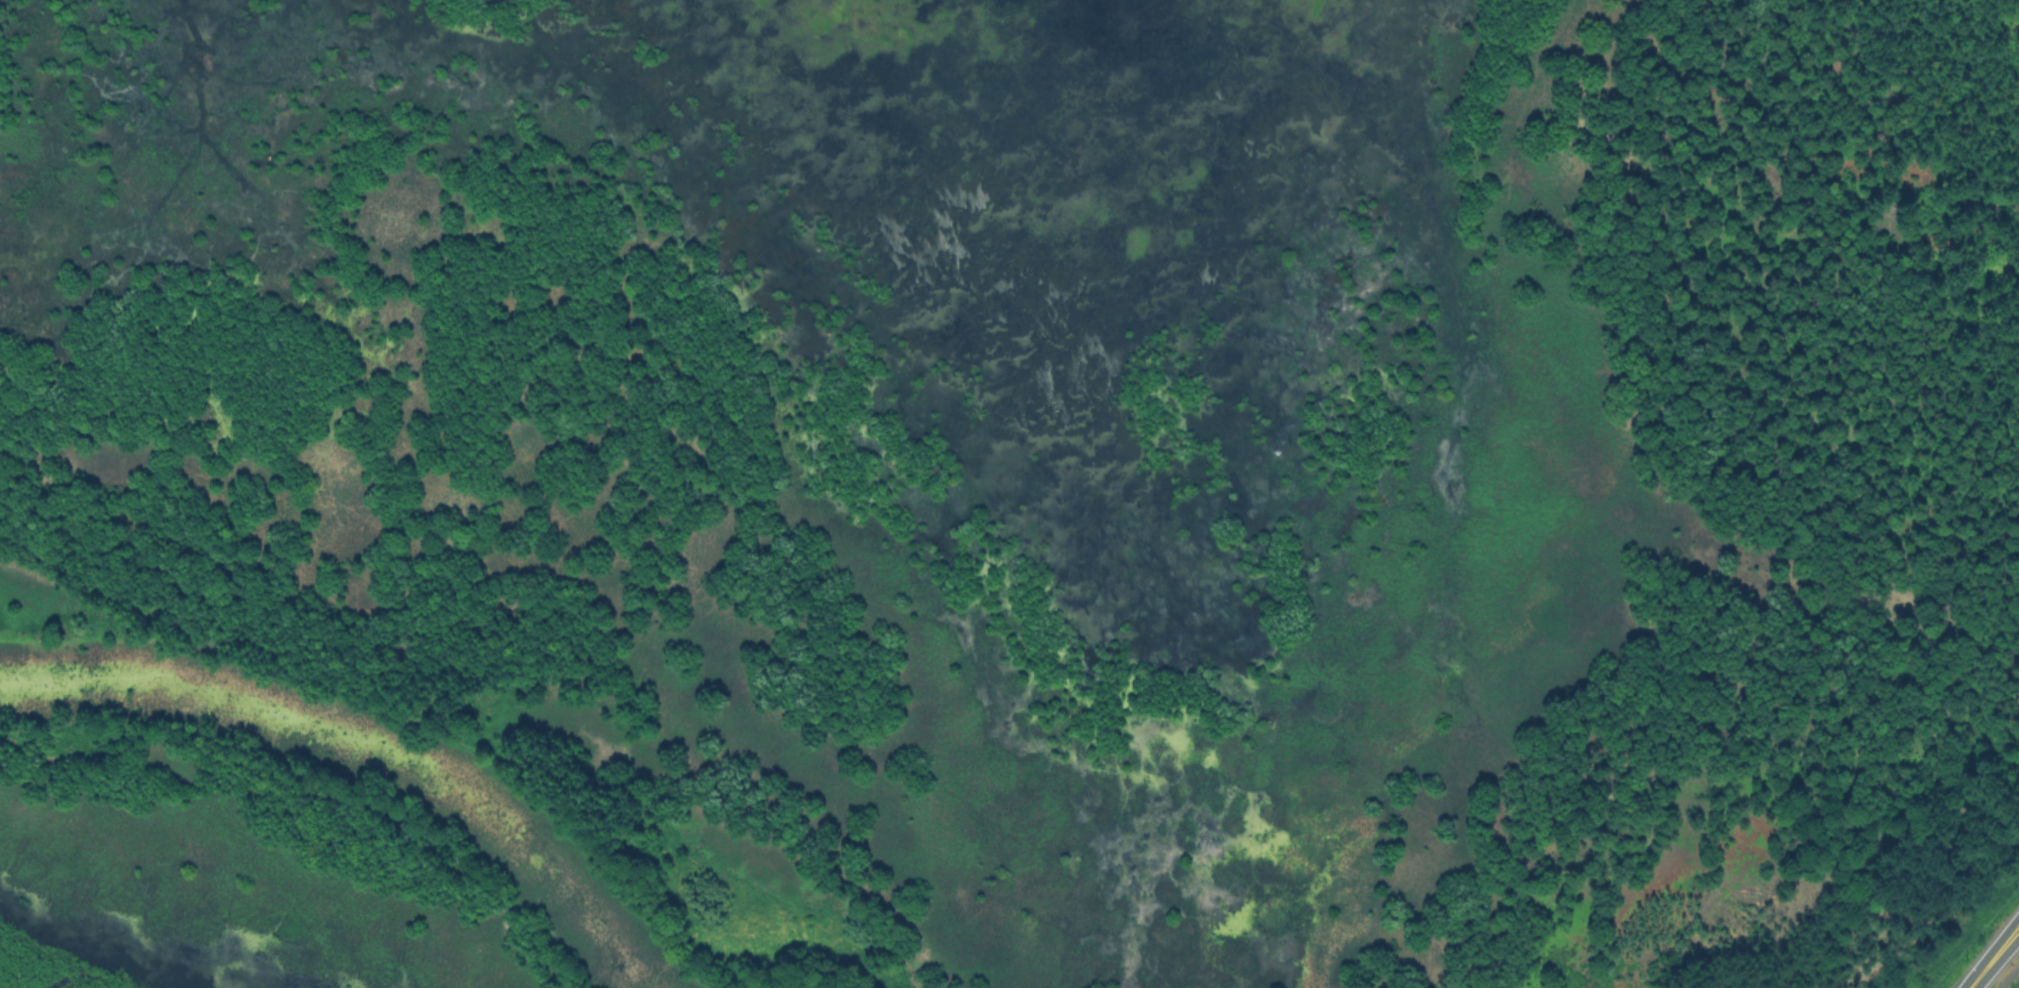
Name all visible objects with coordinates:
road: (1994, 958)
road: (2009, 977)

